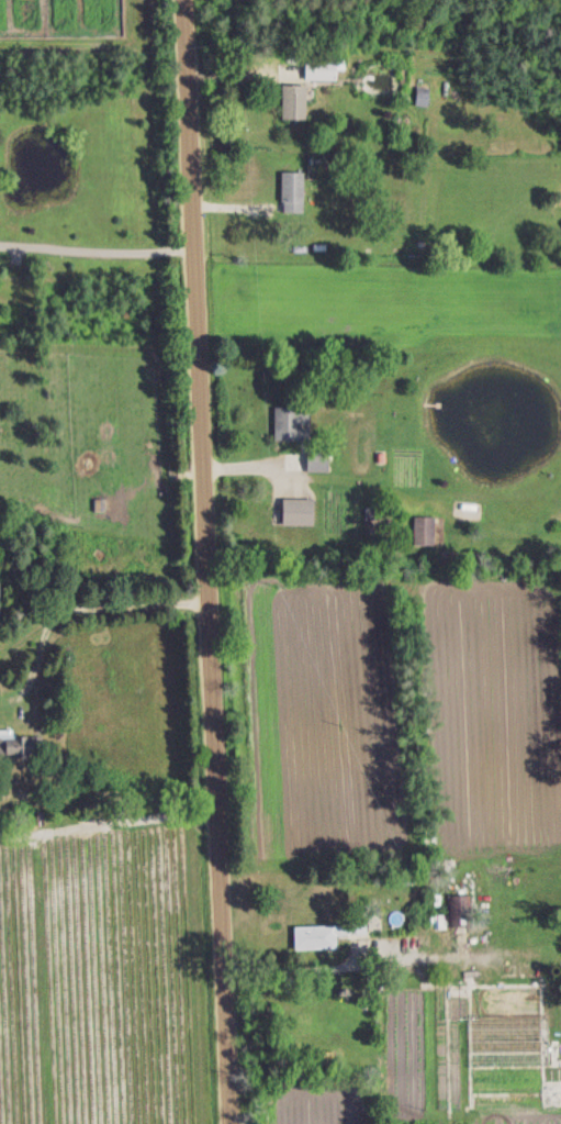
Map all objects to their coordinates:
building: (318, 69)
building: (420, 97)
building: (291, 102)
building: (290, 192)
road: (97, 245)
building: (289, 423)
building: (315, 463)
building: (295, 512)
building: (423, 531)
road: (206, 561)
road: (77, 610)
building: (18, 745)
building: (457, 909)
building: (322, 934)
road: (325, 966)

